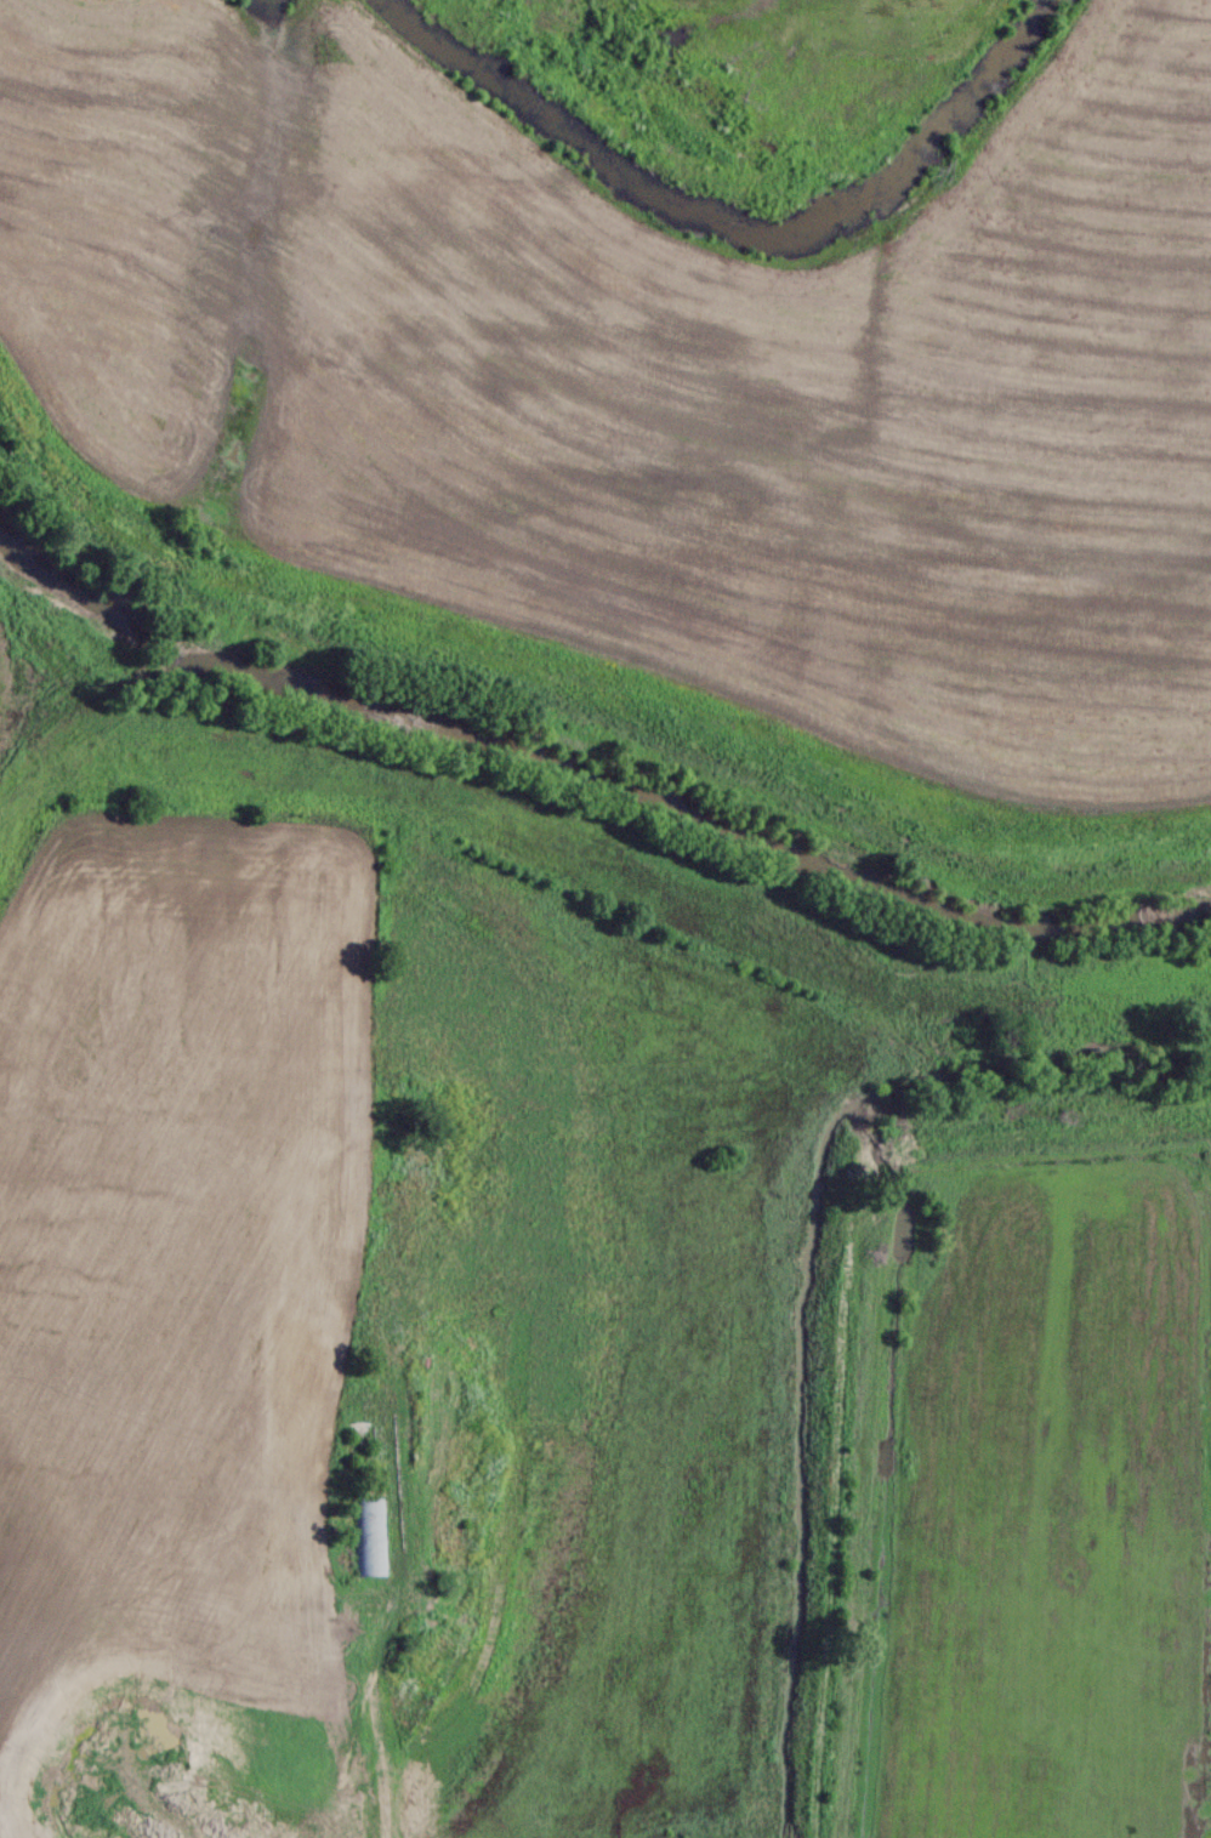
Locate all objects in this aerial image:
building: (370, 1531)

